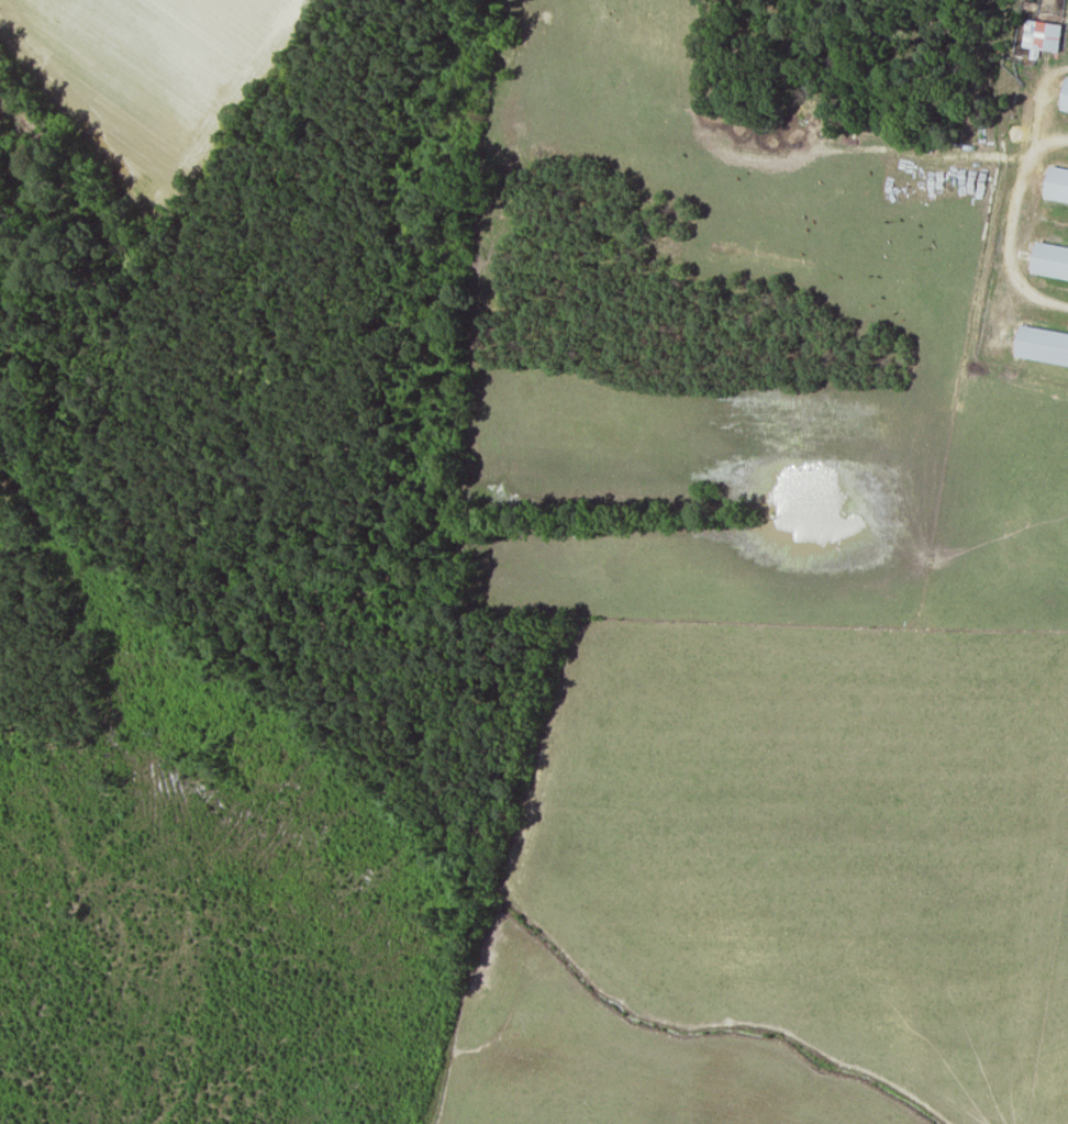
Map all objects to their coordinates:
building: (1042, 34)
building: (1065, 98)
building: (1049, 263)
building: (1042, 344)

